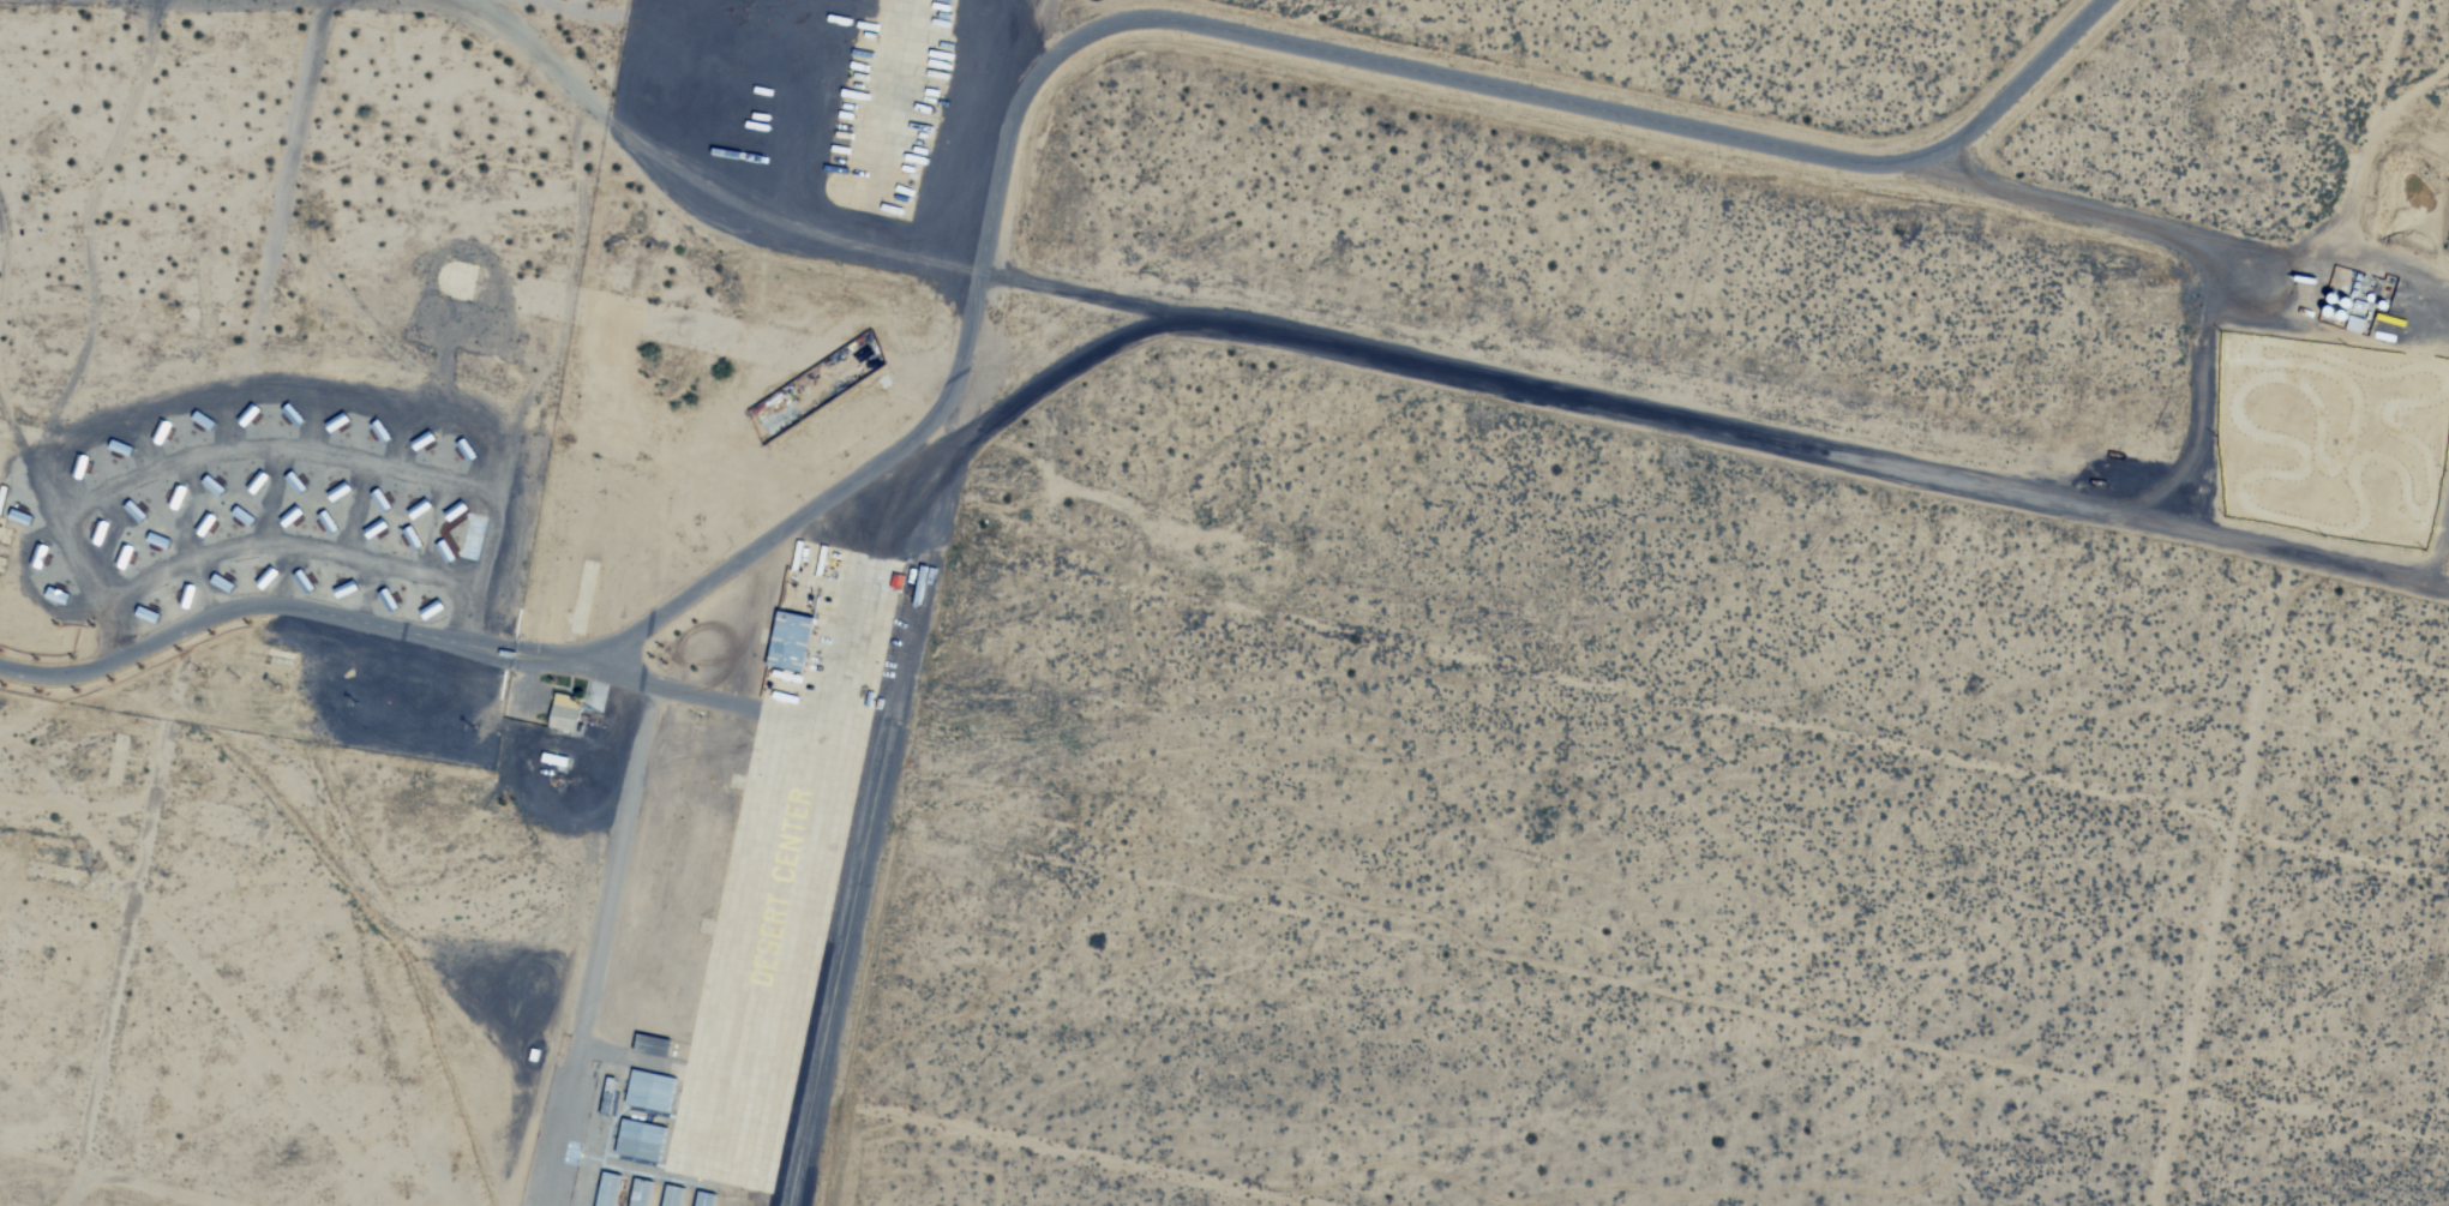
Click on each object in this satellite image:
road: (1208, 25)
road: (205, 617)
road: (468, 638)
building: (792, 642)
road: (464, 650)
road: (553, 652)
road: (553, 666)
road: (524, 690)
road: (679, 690)
parking lot: (527, 697)
airport terminal: (566, 712)
building: (566, 712)
airport taxiway: (878, 738)
airport apron: (785, 864)
airport taxiway: (858, 877)
airport: (686, 895)
road: (606, 946)
building: (664, 1045)
building: (659, 1092)
building: (649, 1144)

